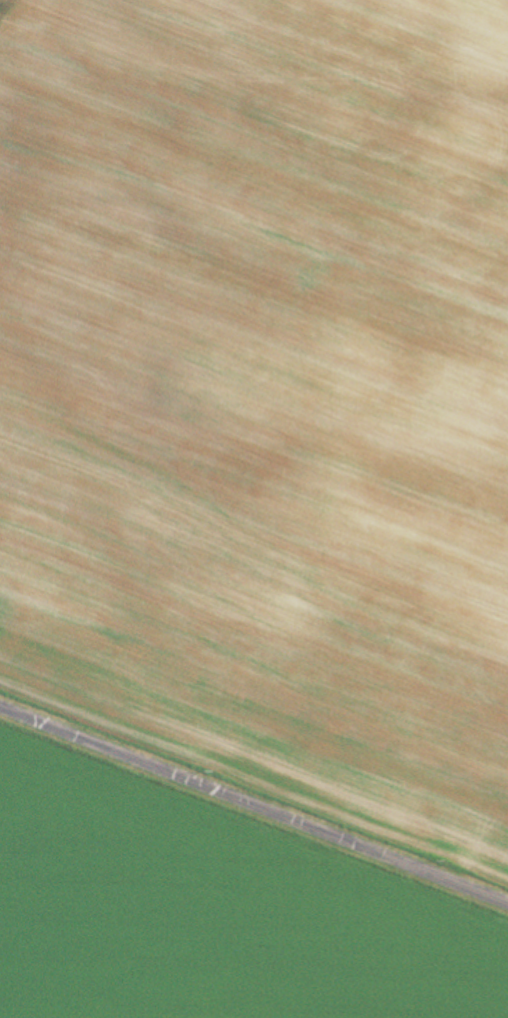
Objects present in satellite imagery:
road: (253, 804)

